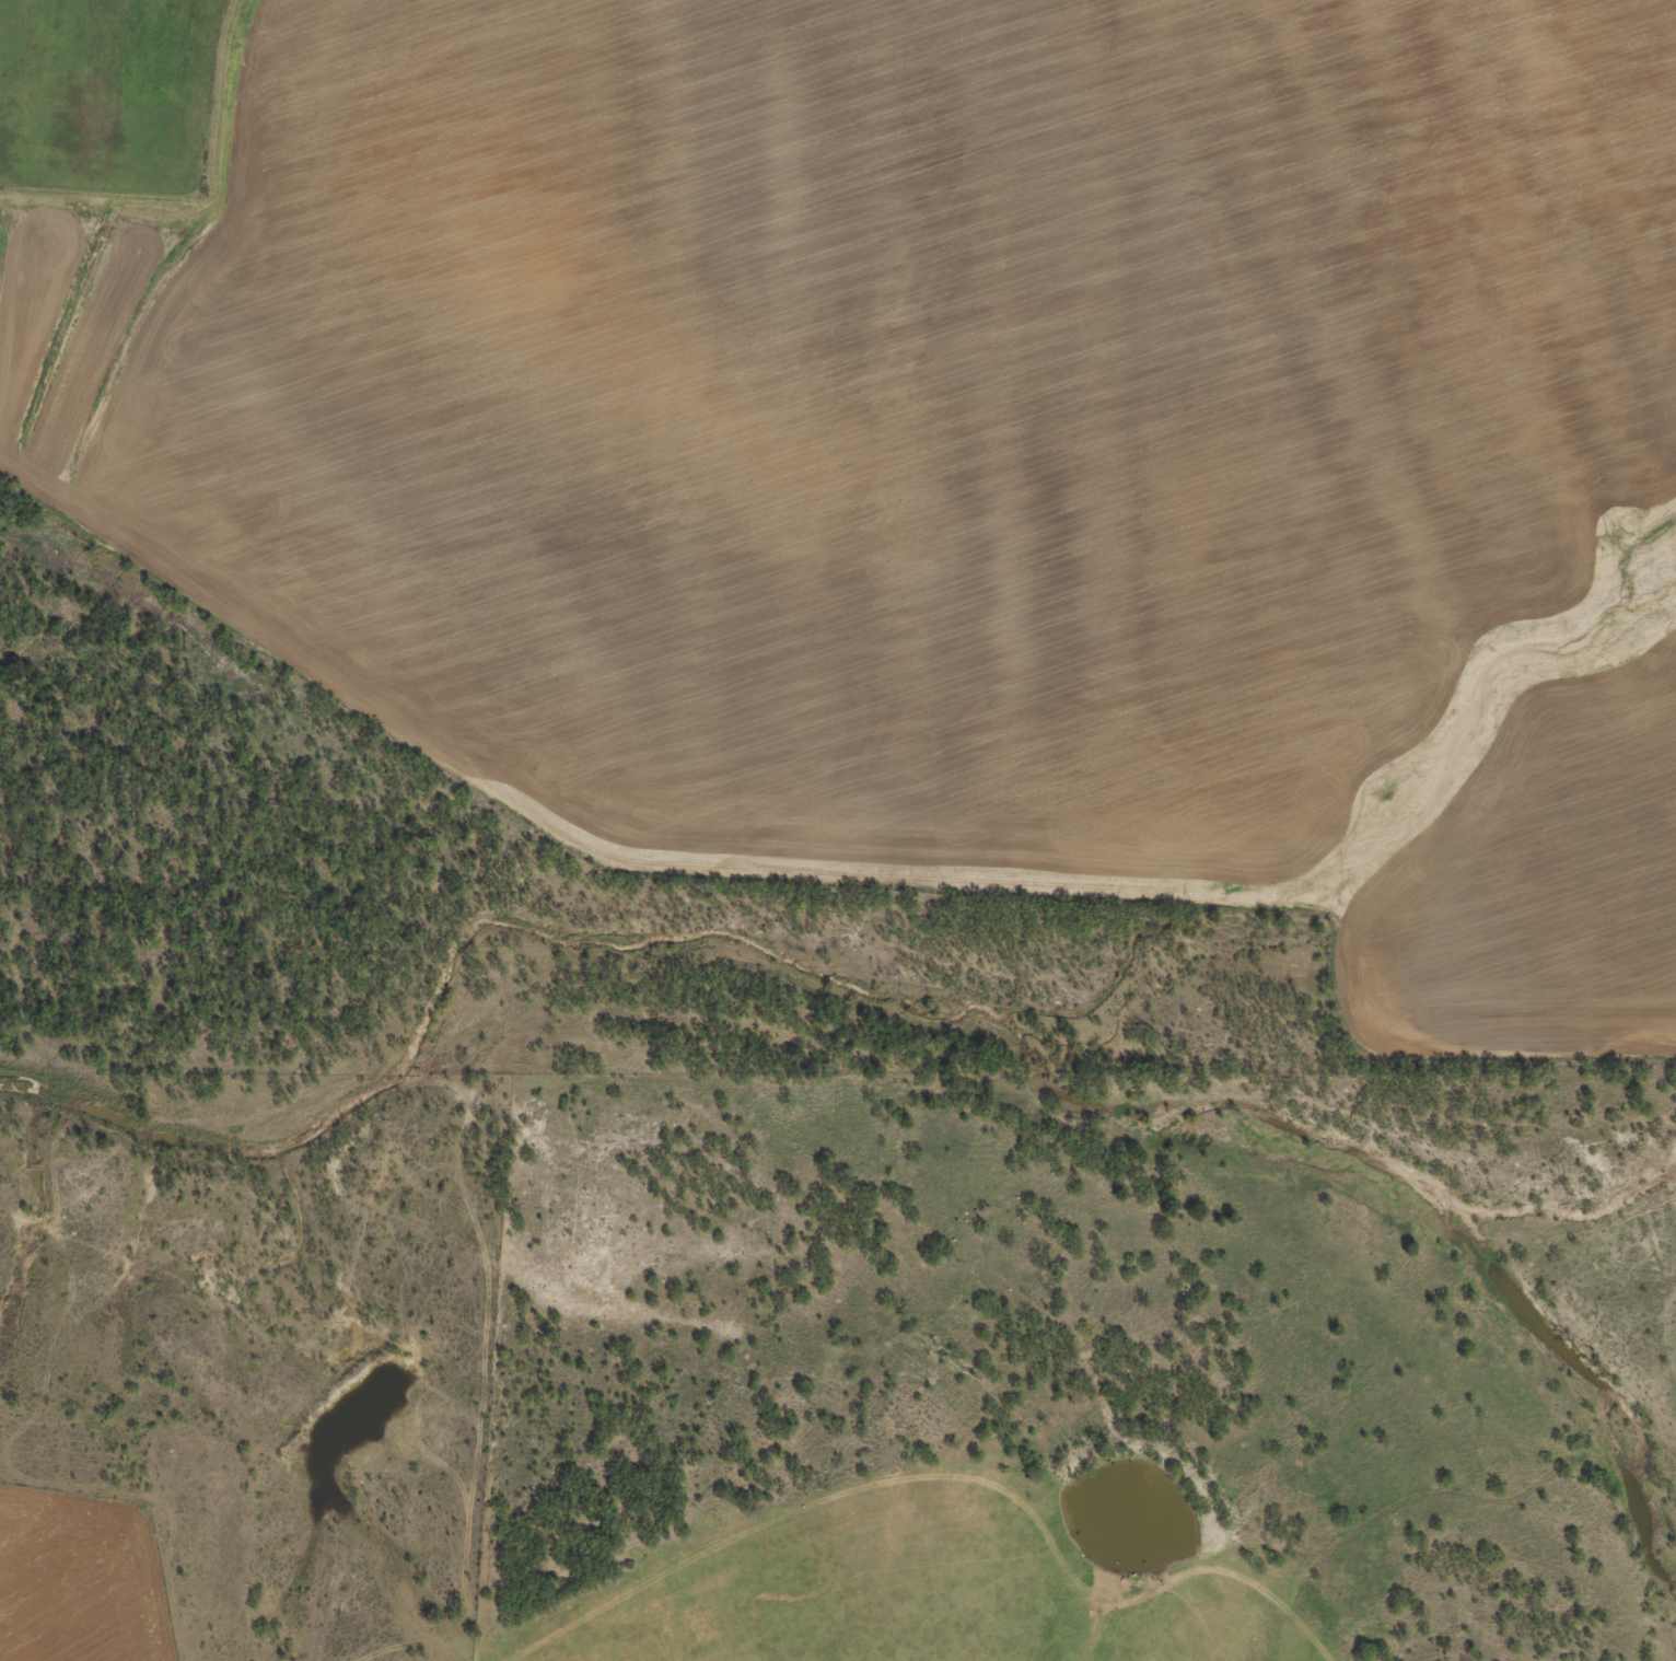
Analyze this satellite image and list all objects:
road: (932, 1468)

